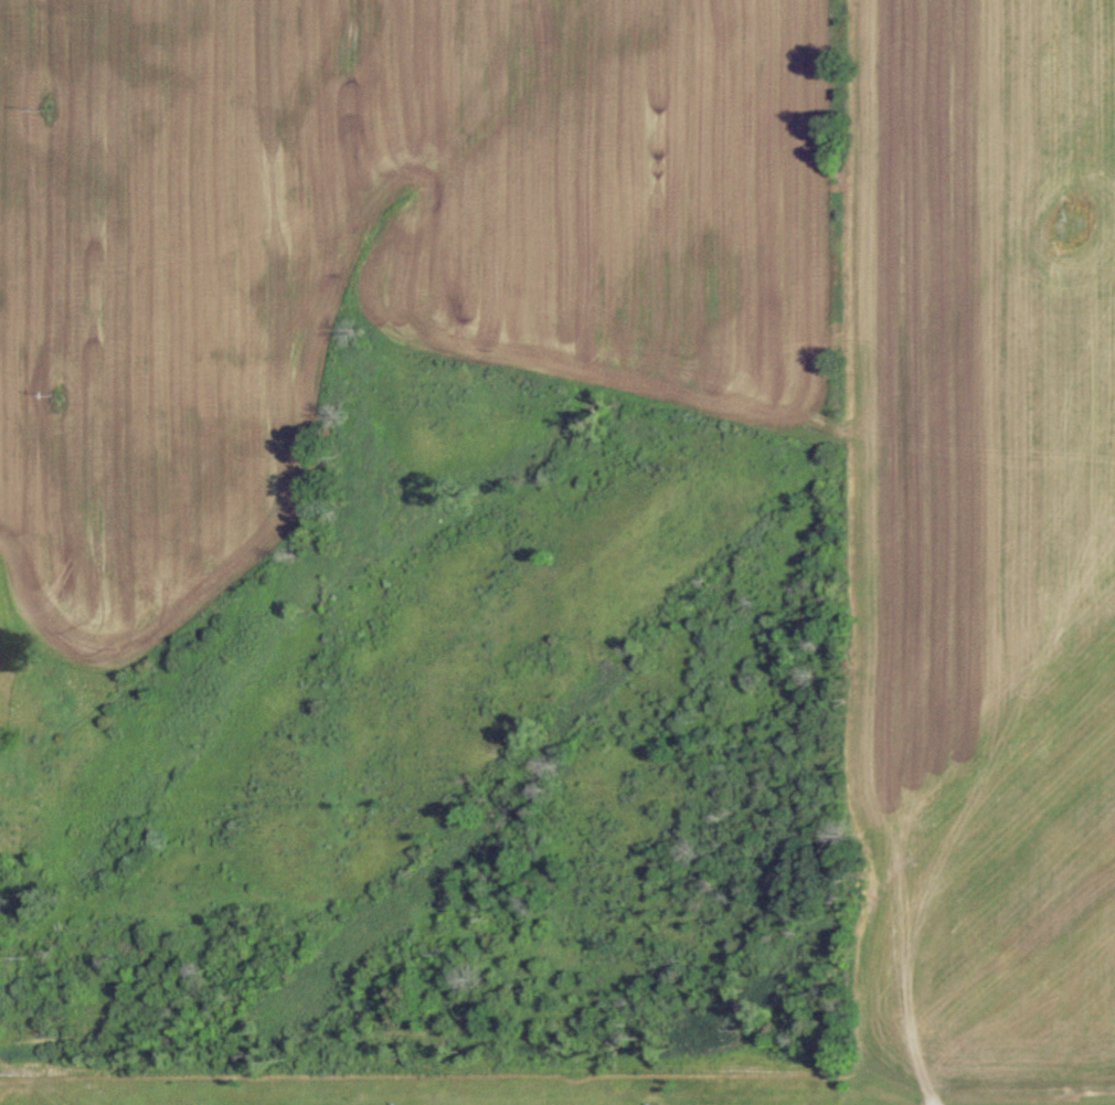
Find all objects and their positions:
crop: (361, 258)
crop: (988, 535)

